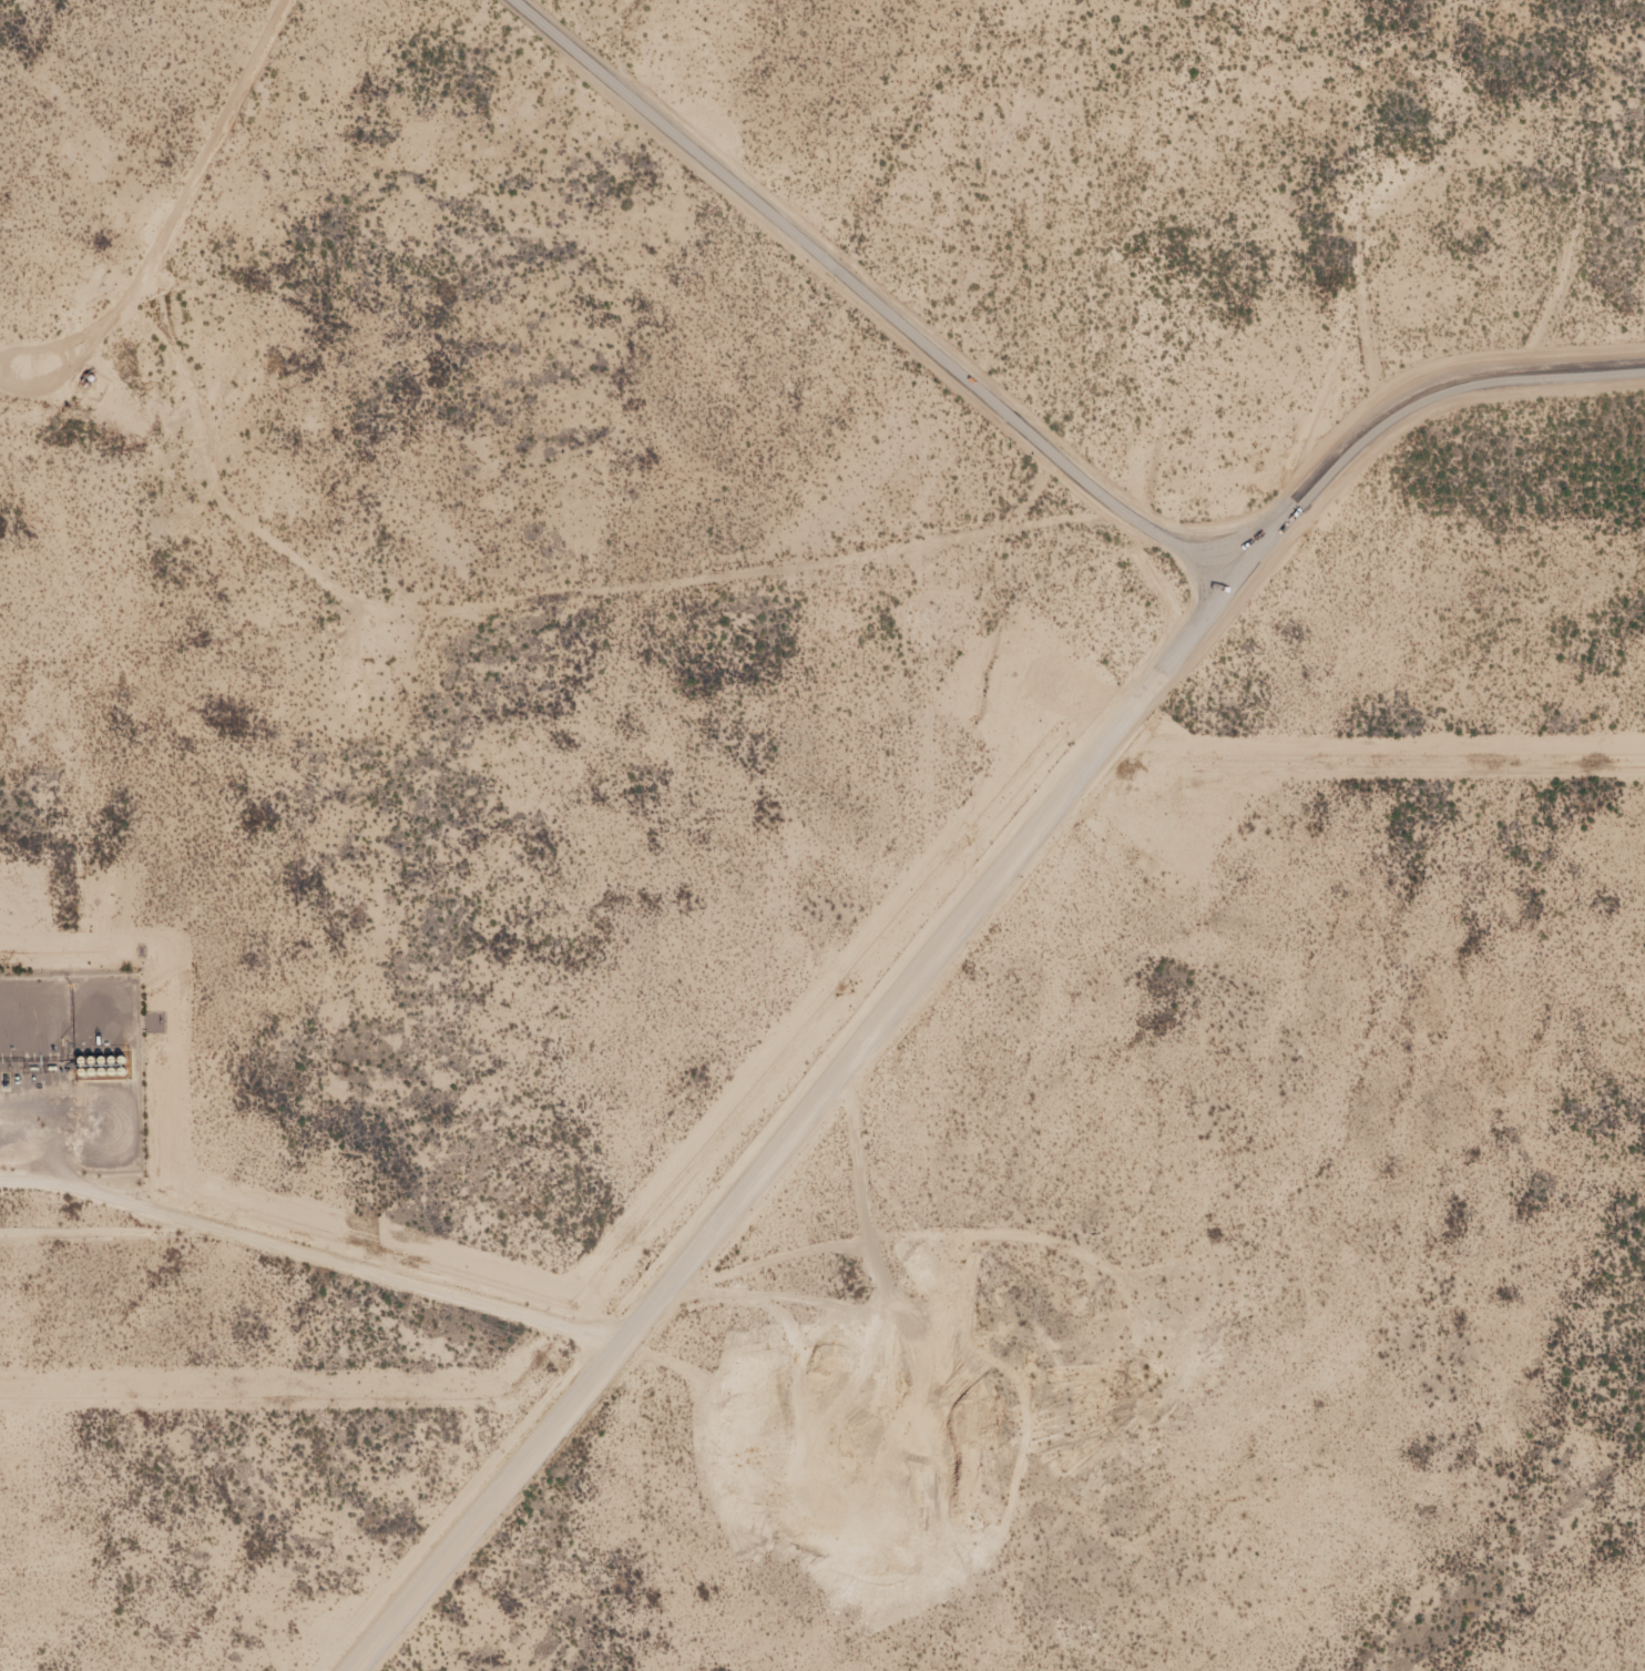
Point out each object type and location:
road: (192, 221)
road: (816, 303)
road: (1401, 431)
road: (794, 1130)

